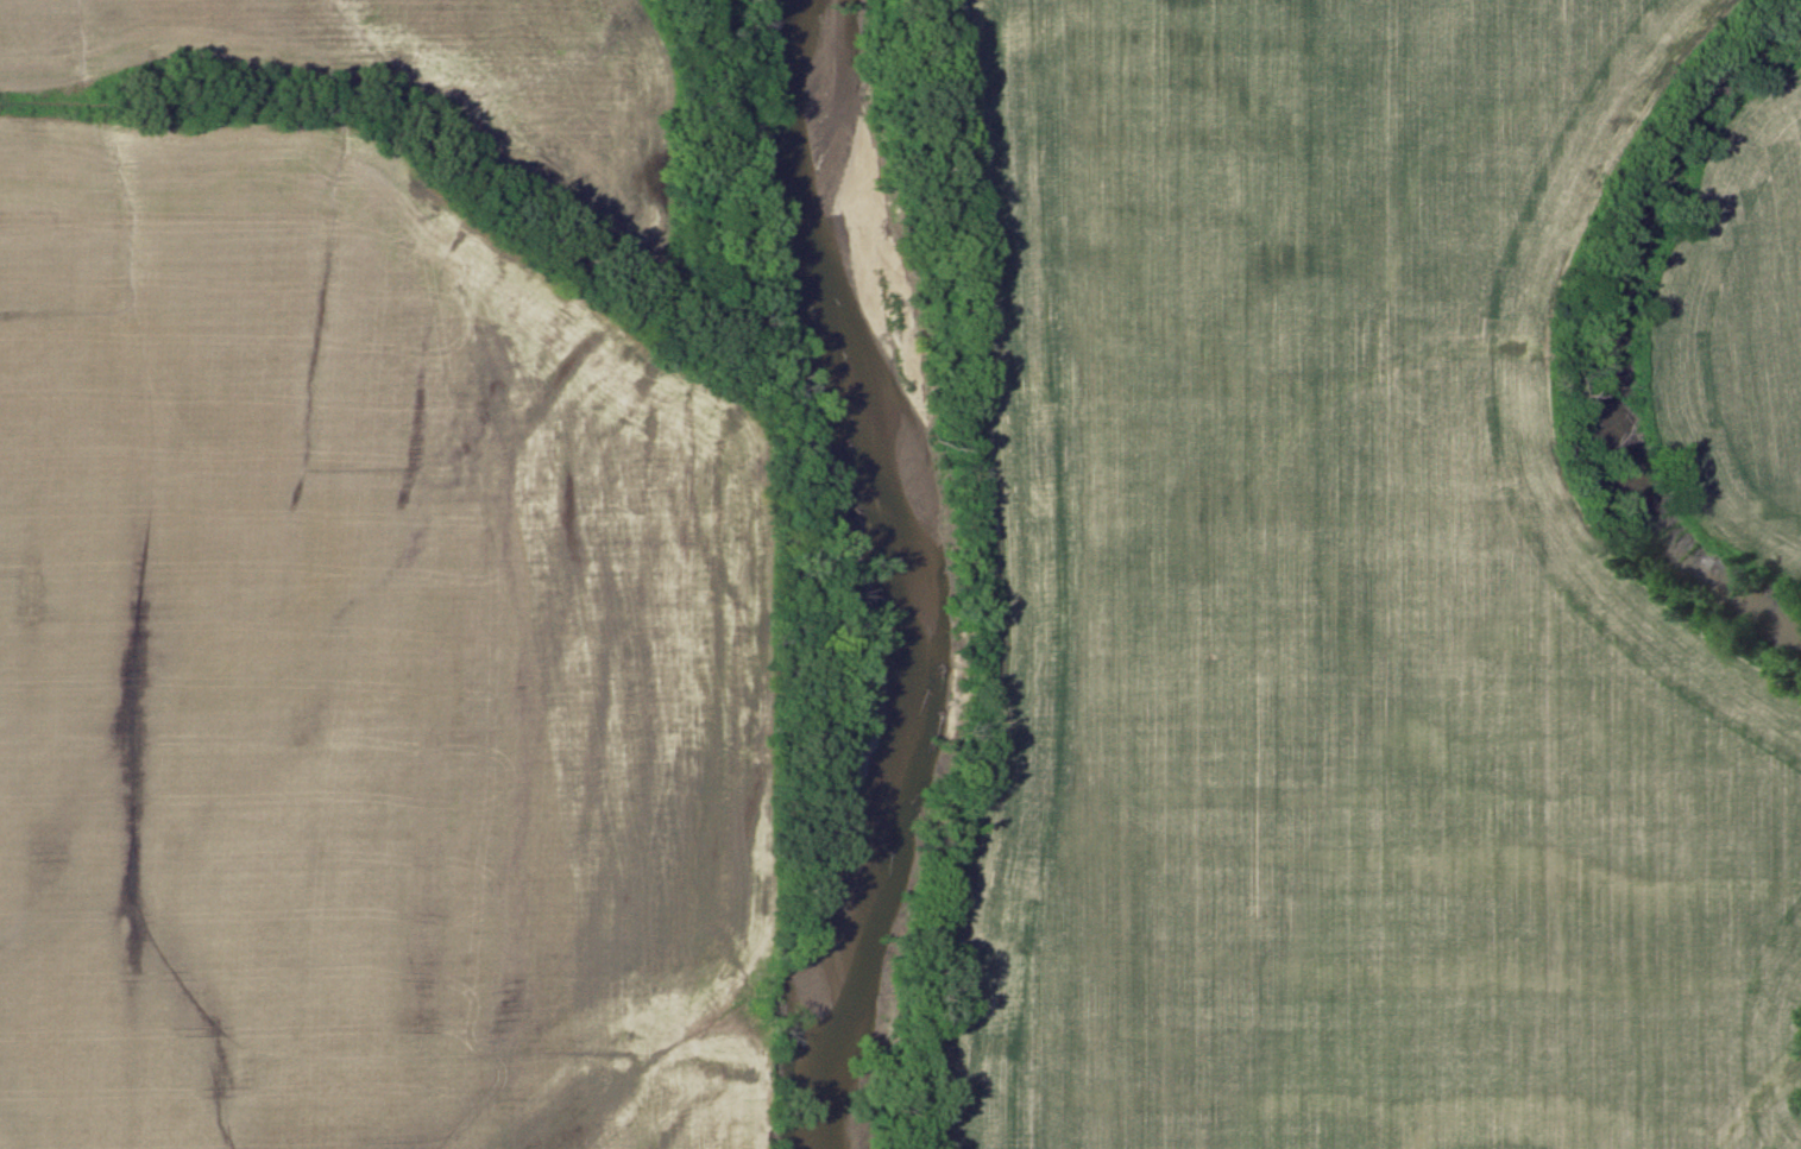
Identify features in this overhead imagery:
crop: (430, 78)
crop: (1348, 611)
crop: (369, 673)

